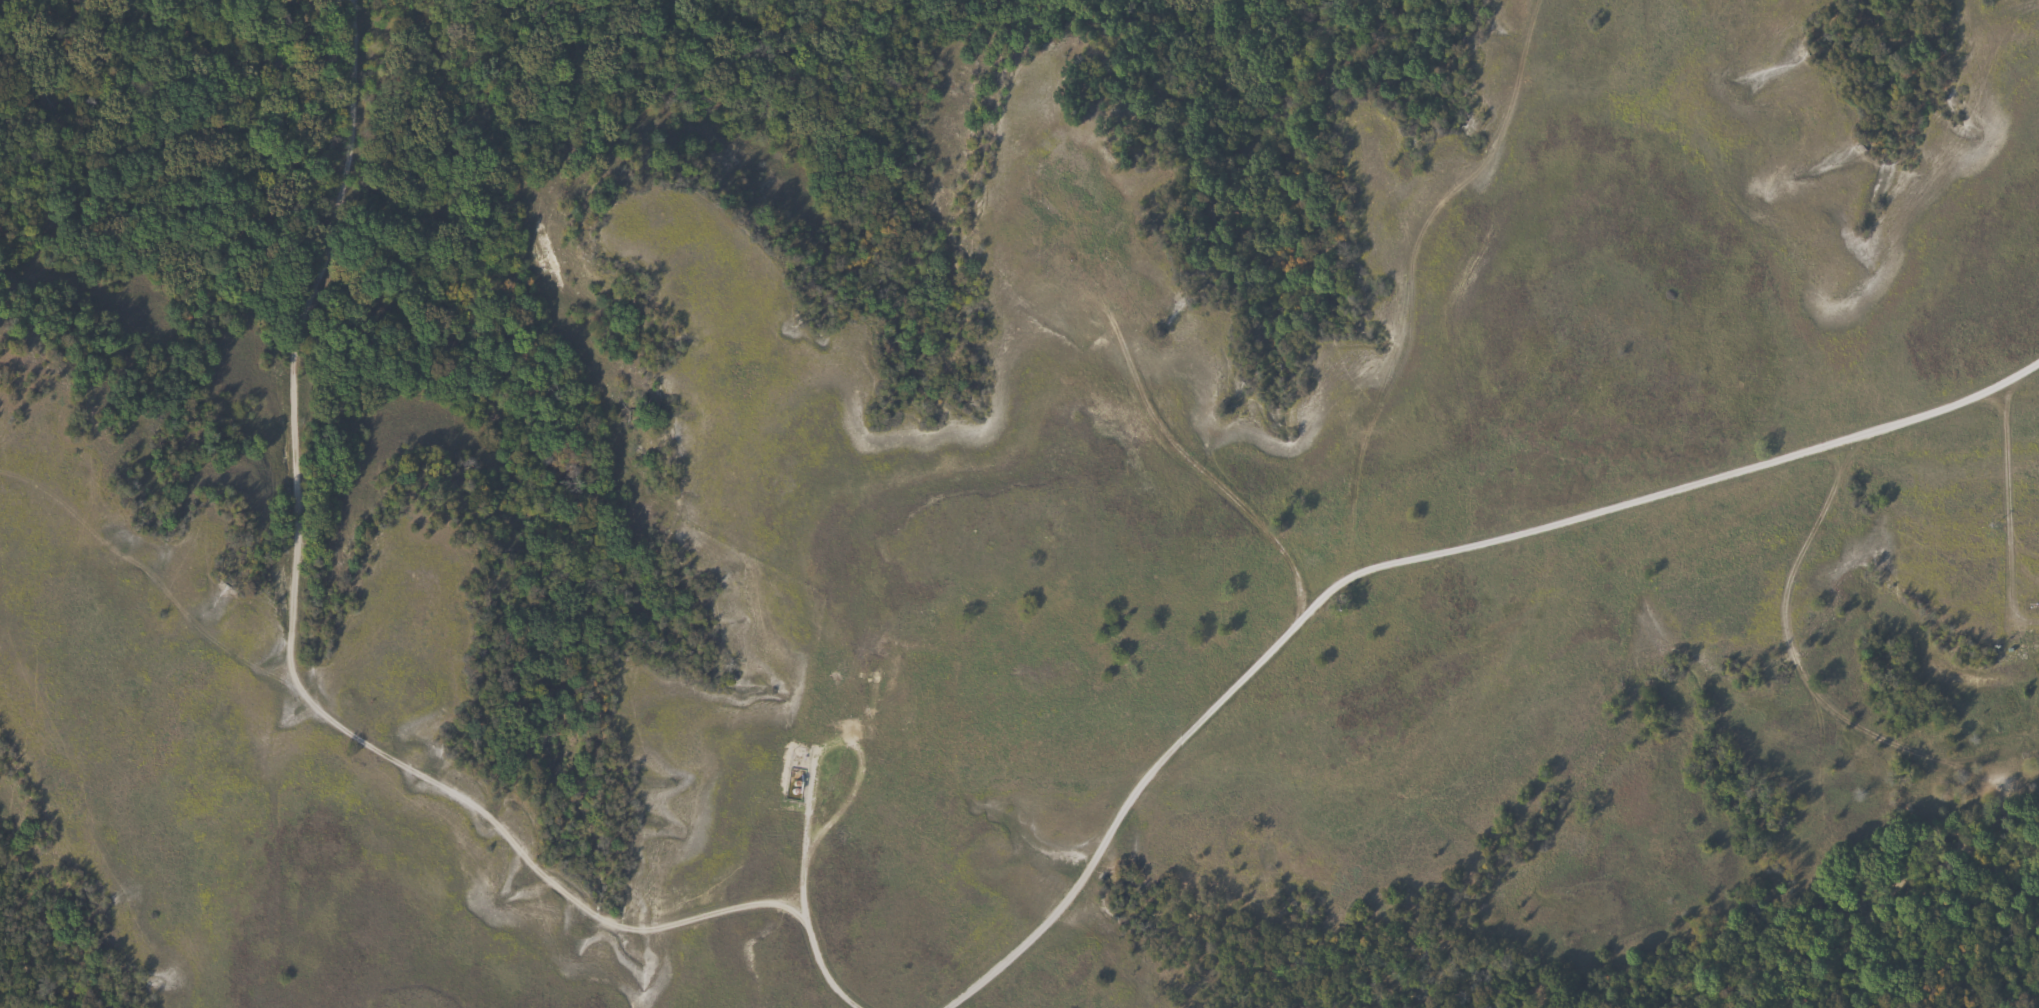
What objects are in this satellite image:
road: (1475, 665)

